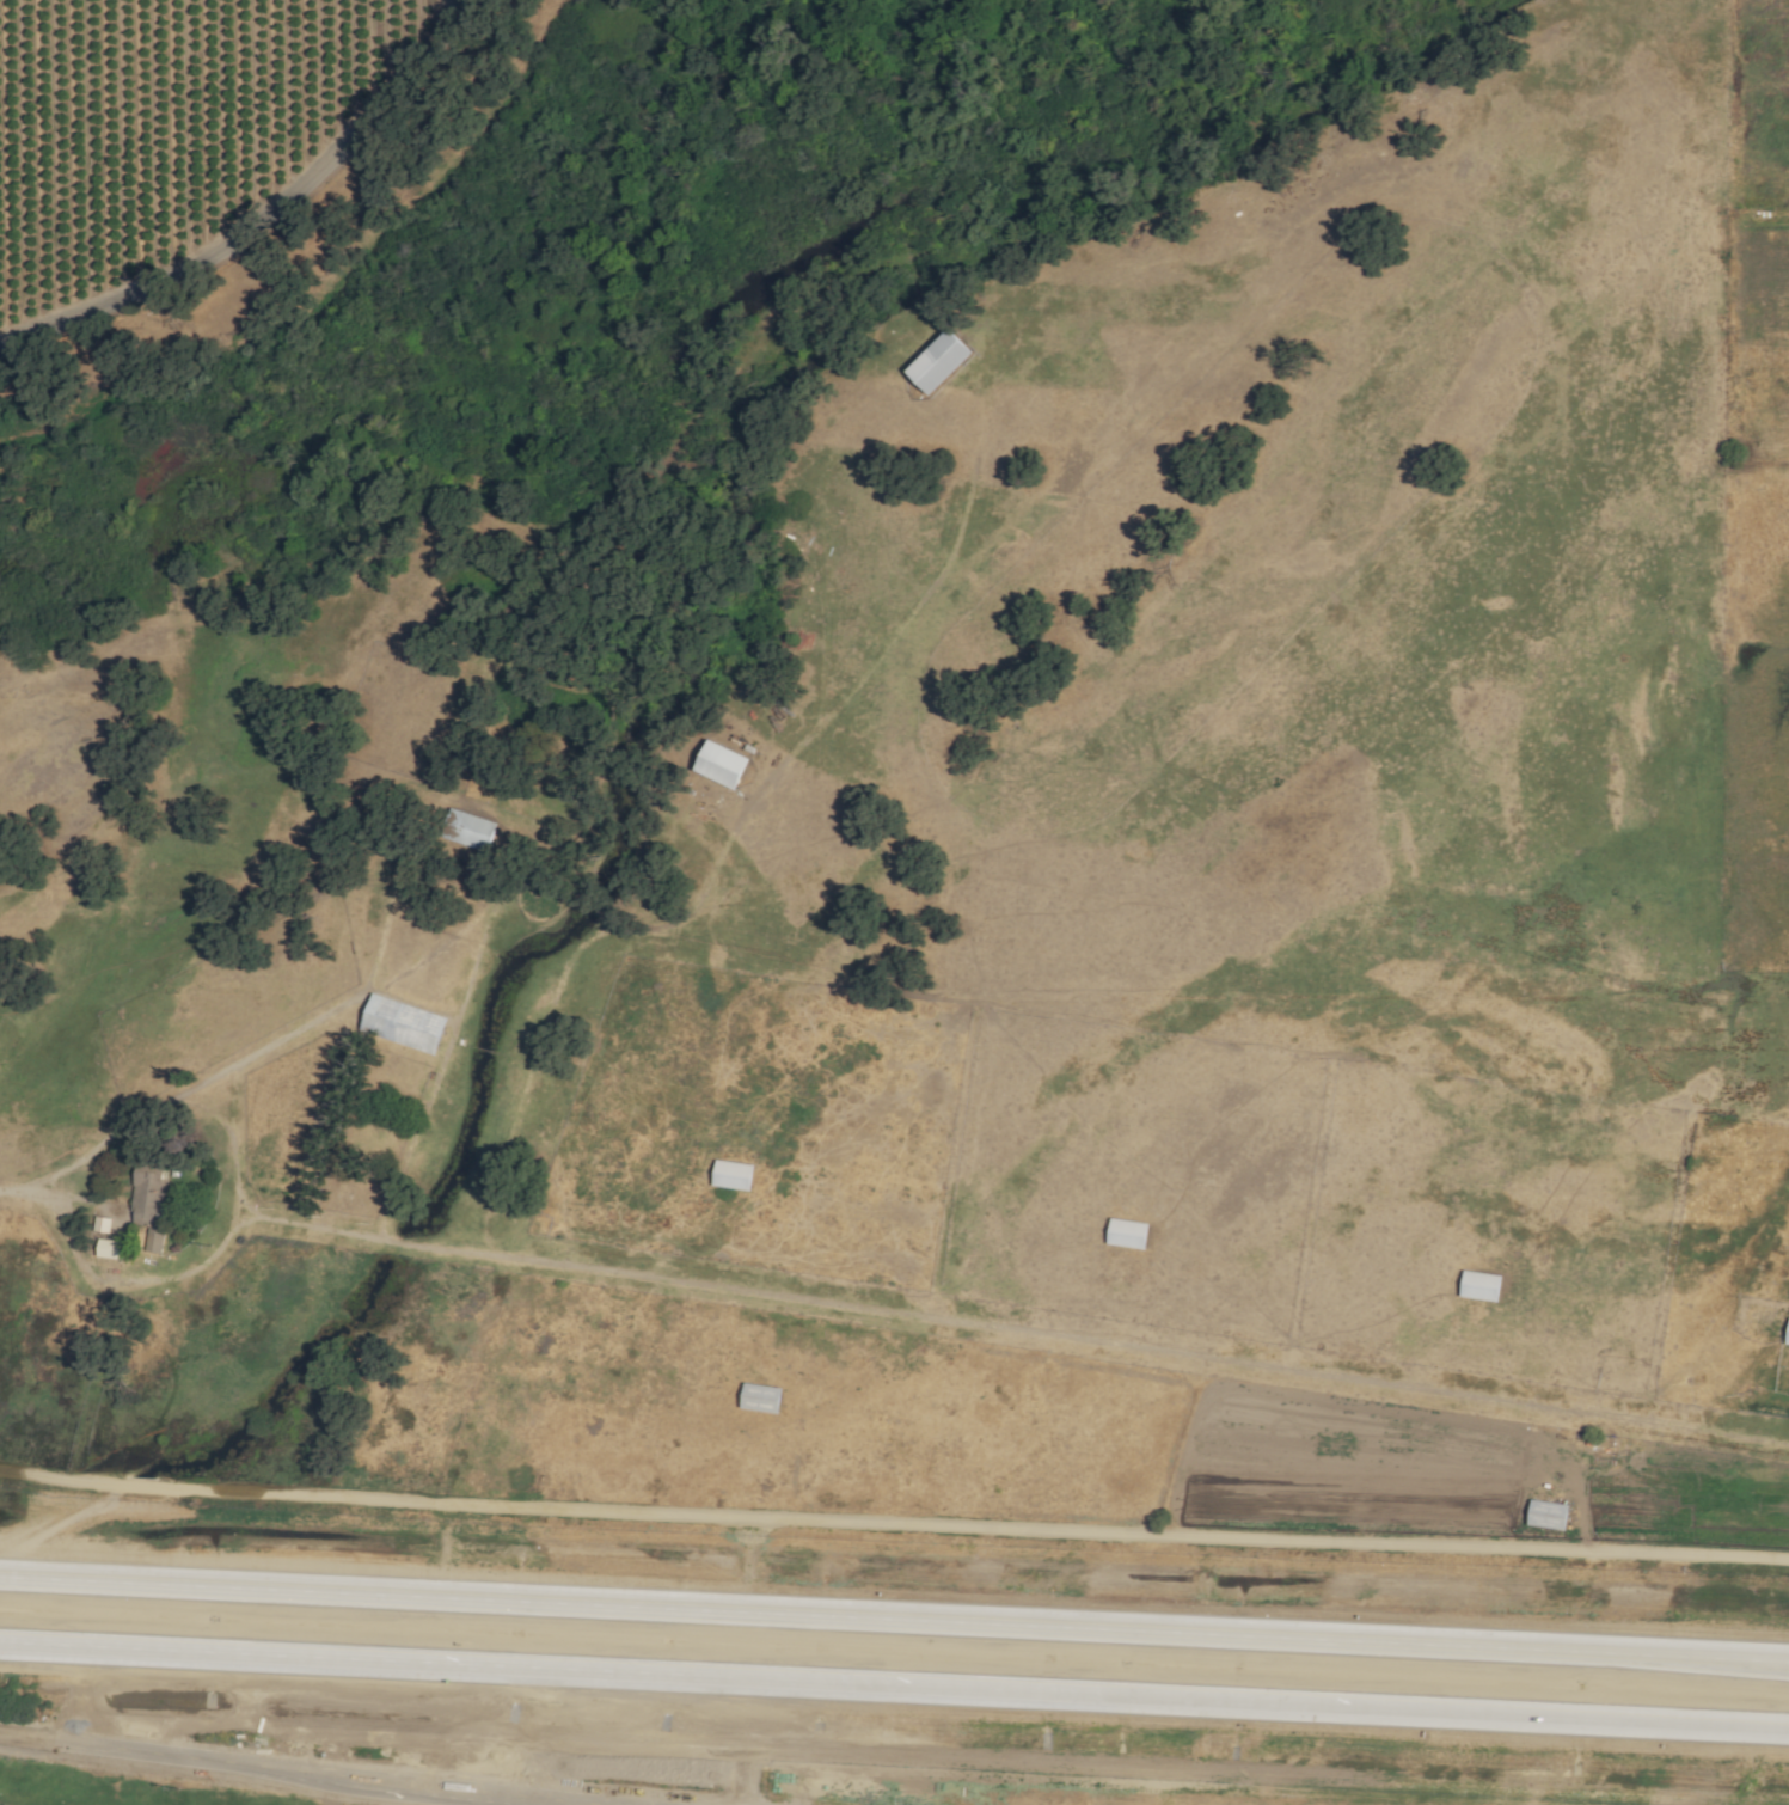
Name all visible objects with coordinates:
road: (263, 216)
building: (932, 361)
crop: (1260, 500)
crop: (1759, 720)
building: (715, 764)
building: (465, 830)
building: (398, 1023)
building: (728, 1175)
road: (30, 1191)
building: (151, 1191)
building: (1122, 1234)
building: (112, 1249)
crop: (387, 1271)
crop: (1294, 1280)
building: (1476, 1286)
building: (1785, 1334)
building: (755, 1399)
building: (1543, 1516)
road: (894, 1523)
road: (894, 1617)
road: (894, 1685)
road: (299, 1769)

